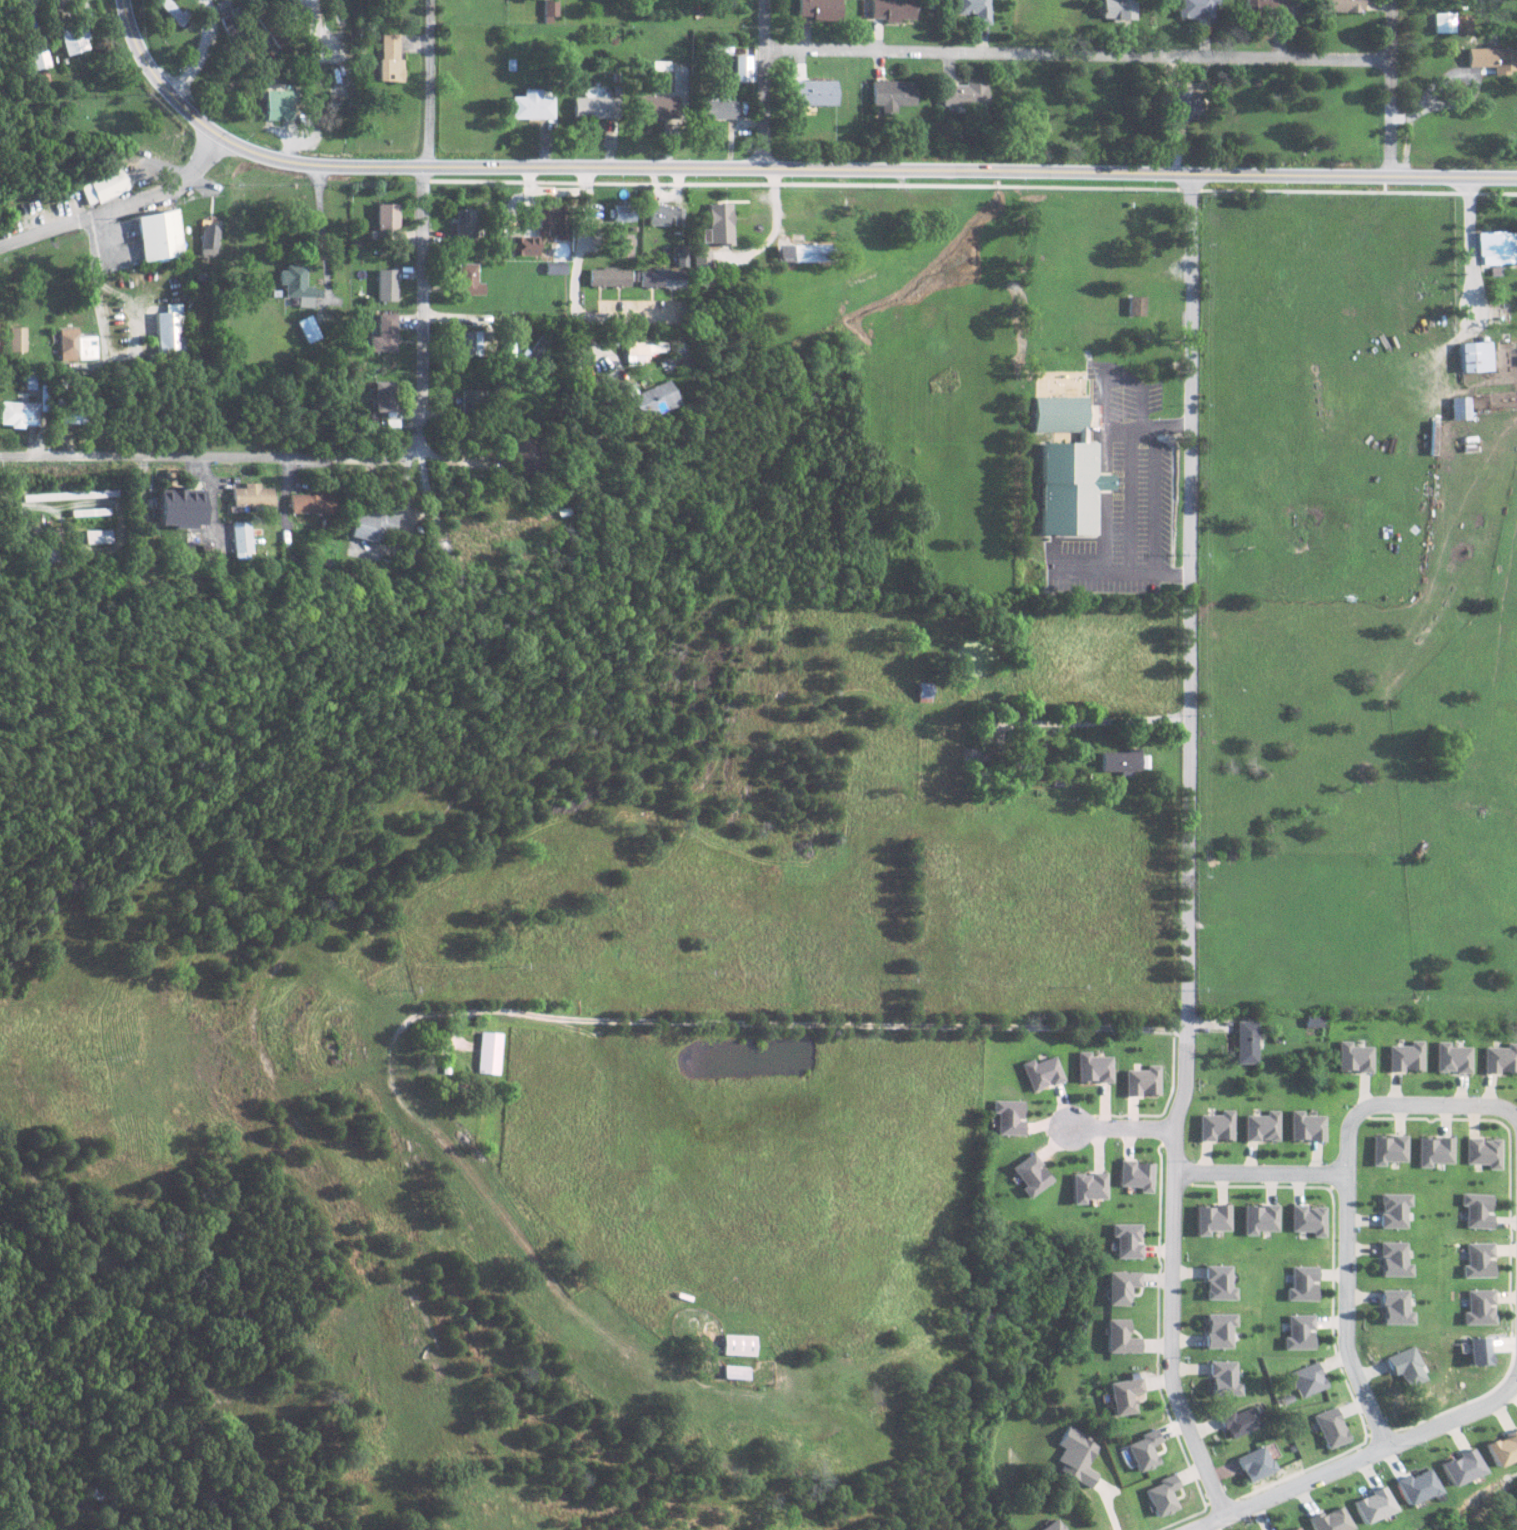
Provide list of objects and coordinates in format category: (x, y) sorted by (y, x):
building: (1342, 5)
building: (1265, 6)
building: (1192, 8)
building: (551, 9)
building: (822, 9)
building: (893, 9)
building: (974, 9)
building: (1115, 9)
road: (319, 13)
building: (338, 13)
building: (1442, 22)
building: (270, 26)
building: (73, 35)
road: (199, 53)
road: (1078, 55)
building: (390, 56)
building: (1491, 57)
building: (38, 60)
building: (663, 80)
road: (432, 83)
road: (767, 83)
road: (1388, 87)
building: (816, 92)
building: (892, 94)
building: (963, 94)
building: (532, 104)
building: (1181, 104)
building: (279, 105)
building: (658, 105)
building: (596, 106)
building: (721, 107)
road: (778, 167)
building: (102, 186)
road: (122, 209)
building: (623, 212)
building: (668, 214)
building: (549, 220)
building: (387, 221)
building: (722, 223)
building: (463, 225)
building: (159, 236)
building: (210, 239)
building: (523, 245)
building: (624, 245)
building: (1496, 247)
building: (803, 252)
building: (683, 254)
building: (705, 266)
building: (557, 267)
building: (611, 276)
building: (663, 278)
building: (469, 279)
road: (580, 282)
building: (297, 284)
building: (386, 284)
building: (1135, 305)
building: (309, 328)
building: (170, 331)
building: (385, 334)
building: (15, 339)
building: (468, 343)
building: (75, 345)
building: (538, 348)
building: (641, 351)
building: (1475, 356)
building: (384, 396)
building: (650, 398)
building: (472, 400)
building: (1460, 408)
building: (18, 413)
road: (348, 454)
building: (525, 457)
building: (1069, 468)
building: (250, 495)
building: (309, 503)
building: (181, 507)
building: (367, 524)
building: (97, 536)
building: (238, 540)
road: (1193, 595)
building: (1121, 763)
building: (1313, 1021)
road: (830, 1025)
building: (1246, 1042)
building: (488, 1053)
building: (1406, 1057)
building: (1354, 1058)
building: (1452, 1058)
building: (1500, 1059)
building: (1091, 1068)
building: (1040, 1073)
building: (1140, 1081)
road: (1409, 1105)
building: (1008, 1117)
building: (1216, 1126)
road: (1123, 1127)
building: (1262, 1127)
building: (1306, 1127)
building: (1388, 1149)
building: (1434, 1151)
building: (1483, 1152)
road: (462, 1168)
road: (1262, 1172)
building: (1029, 1175)
building: (1134, 1176)
building: (1085, 1187)
building: (1394, 1210)
building: (1476, 1210)
building: (1212, 1219)
building: (1259, 1219)
building: (1309, 1220)
building: (1126, 1240)
building: (1393, 1260)
building: (1476, 1261)
road: (1172, 1271)
building: (1218, 1284)
building: (1301, 1284)
building: (1121, 1287)
building: (1394, 1308)
building: (1476, 1308)
road: (1350, 1312)
building: (1218, 1330)
building: (1298, 1333)
building: (1120, 1338)
building: (737, 1346)
building: (1476, 1352)
building: (1405, 1366)
building: (734, 1373)
building: (1222, 1379)
building: (1308, 1380)
building: (1123, 1396)
building: (1241, 1421)
building: (1330, 1428)
building: (1500, 1449)
building: (1143, 1451)
building: (1075, 1456)
road: (1358, 1456)
building: (1256, 1464)
building: (1457, 1468)
building: (1413, 1487)
building: (1162, 1496)
building: (1369, 1507)
building: (1326, 1521)
building: (1052, 1526)
building: (1292, 1528)

